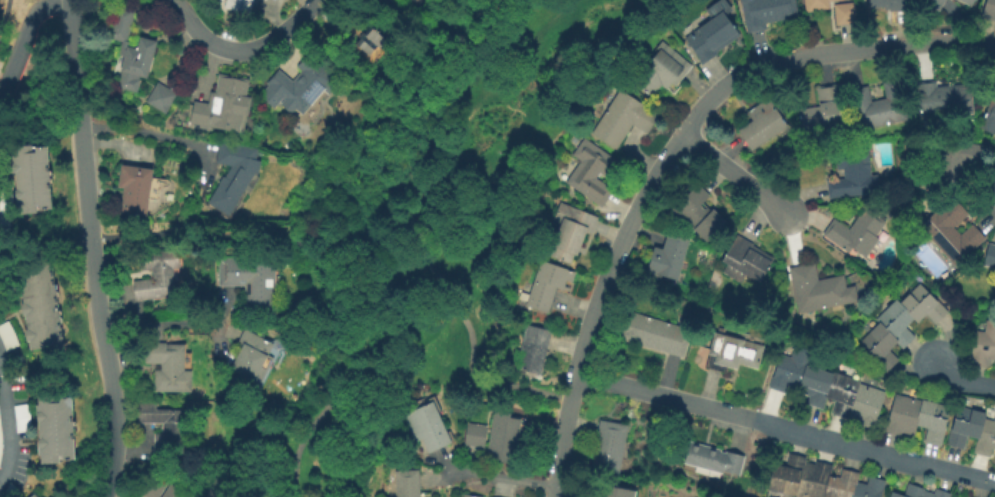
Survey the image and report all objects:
building: (216, 1)
building: (967, 2)
building: (414, 3)
building: (893, 4)
building: (933, 4)
building: (239, 5)
building: (816, 5)
building: (989, 9)
building: (766, 12)
building: (844, 14)
road: (6, 15)
building: (711, 37)
road: (24, 39)
building: (373, 41)
road: (5, 44)
building: (132, 50)
road: (244, 52)
road: (19, 54)
building: (658, 73)
road: (53, 75)
building: (305, 82)
building: (162, 97)
building: (942, 99)
building: (224, 103)
building: (874, 108)
building: (823, 111)
building: (989, 116)
building: (623, 119)
building: (762, 123)
road: (154, 135)
road: (114, 144)
road: (669, 153)
building: (954, 162)
building: (593, 172)
building: (853, 172)
road: (732, 173)
building: (234, 174)
building: (32, 178)
building: (138, 188)
building: (170, 196)
building: (6, 205)
building: (699, 213)
road: (399, 221)
building: (570, 231)
building: (950, 231)
building: (856, 233)
road: (256, 235)
road: (92, 249)
building: (990, 255)
building: (669, 257)
building: (745, 260)
building: (1, 274)
building: (158, 274)
building: (251, 280)
building: (547, 286)
building: (818, 289)
building: (42, 306)
road: (166, 321)
building: (899, 325)
building: (654, 333)
building: (8, 335)
building: (983, 345)
building: (533, 349)
building: (731, 353)
building: (251, 359)
road: (337, 363)
building: (169, 366)
road: (962, 380)
building: (828, 388)
building: (23, 417)
building: (918, 417)
road: (9, 425)
building: (166, 426)
building: (426, 427)
road: (787, 427)
building: (56, 428)
building: (973, 430)
building: (475, 436)
building: (1, 438)
building: (503, 438)
building: (609, 447)
building: (713, 459)
road: (761, 460)
road: (502, 479)
building: (820, 480)
building: (407, 483)
building: (151, 485)
building: (11, 491)
building: (174, 492)
building: (616, 492)
building: (923, 492)
building: (34, 495)
building: (896, 495)
building: (470, 496)

